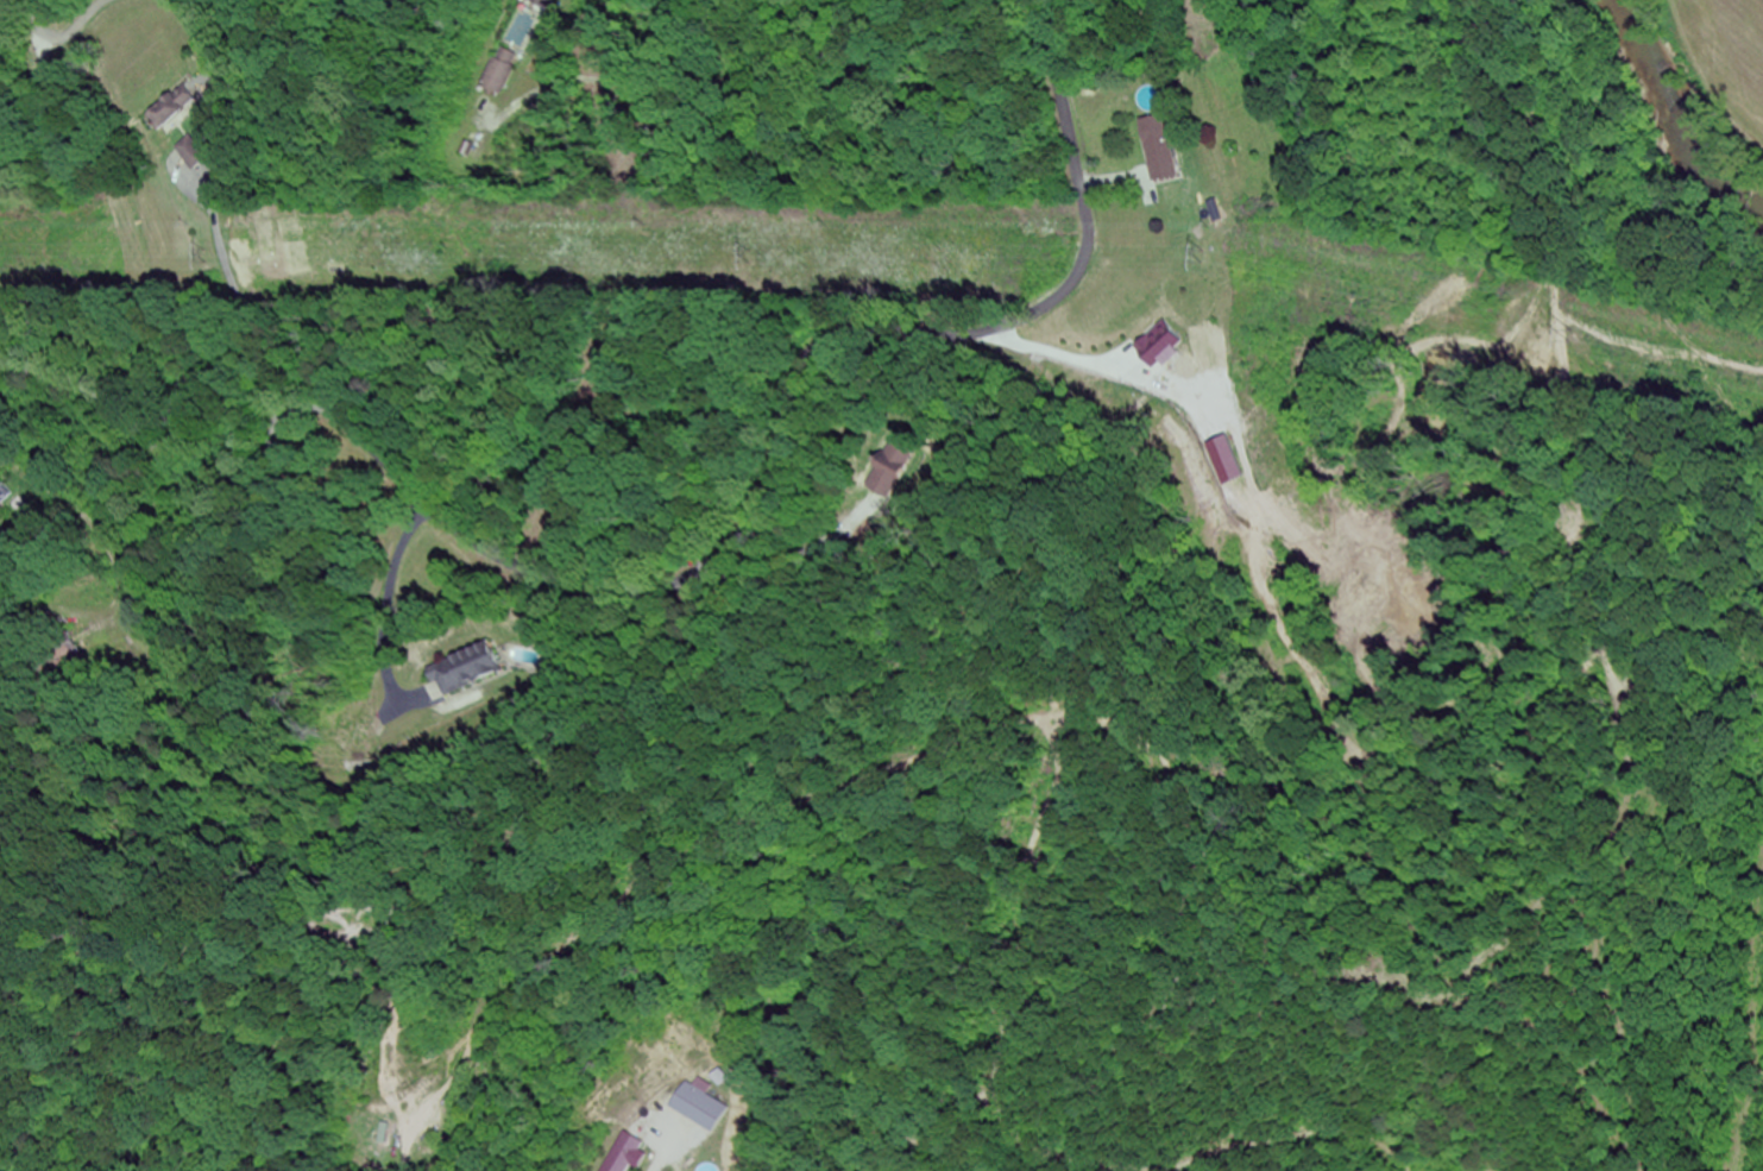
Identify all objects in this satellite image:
building: (541, 2)
building: (499, 71)
building: (171, 108)
building: (1160, 150)
building: (881, 481)
building: (4, 493)
road: (675, 584)
building: (465, 668)
building: (632, 1153)

